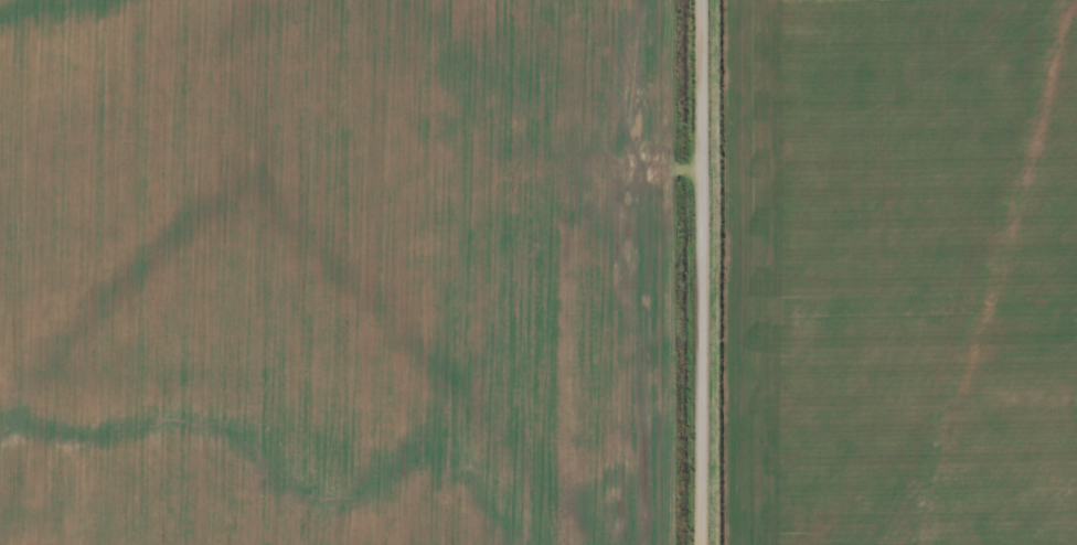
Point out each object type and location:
road: (699, 272)

